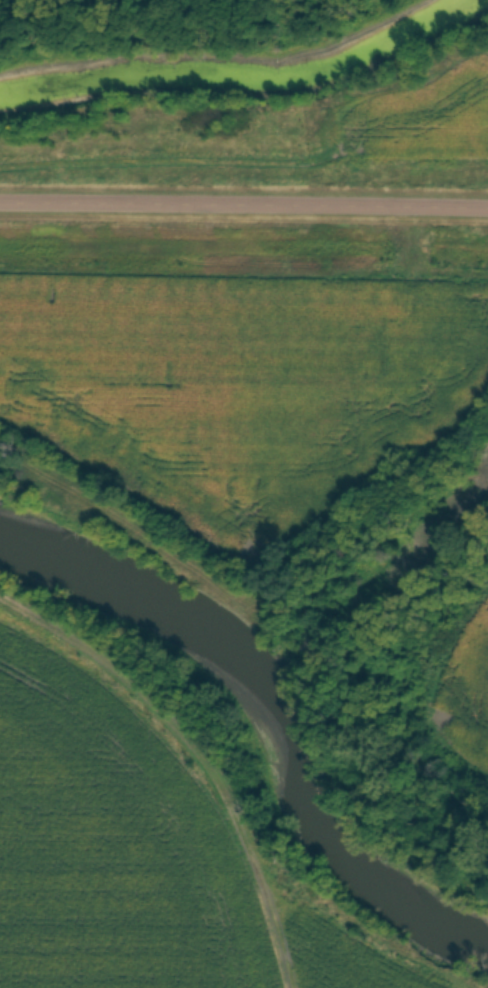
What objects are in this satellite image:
road: (243, 206)
river: (255, 725)

